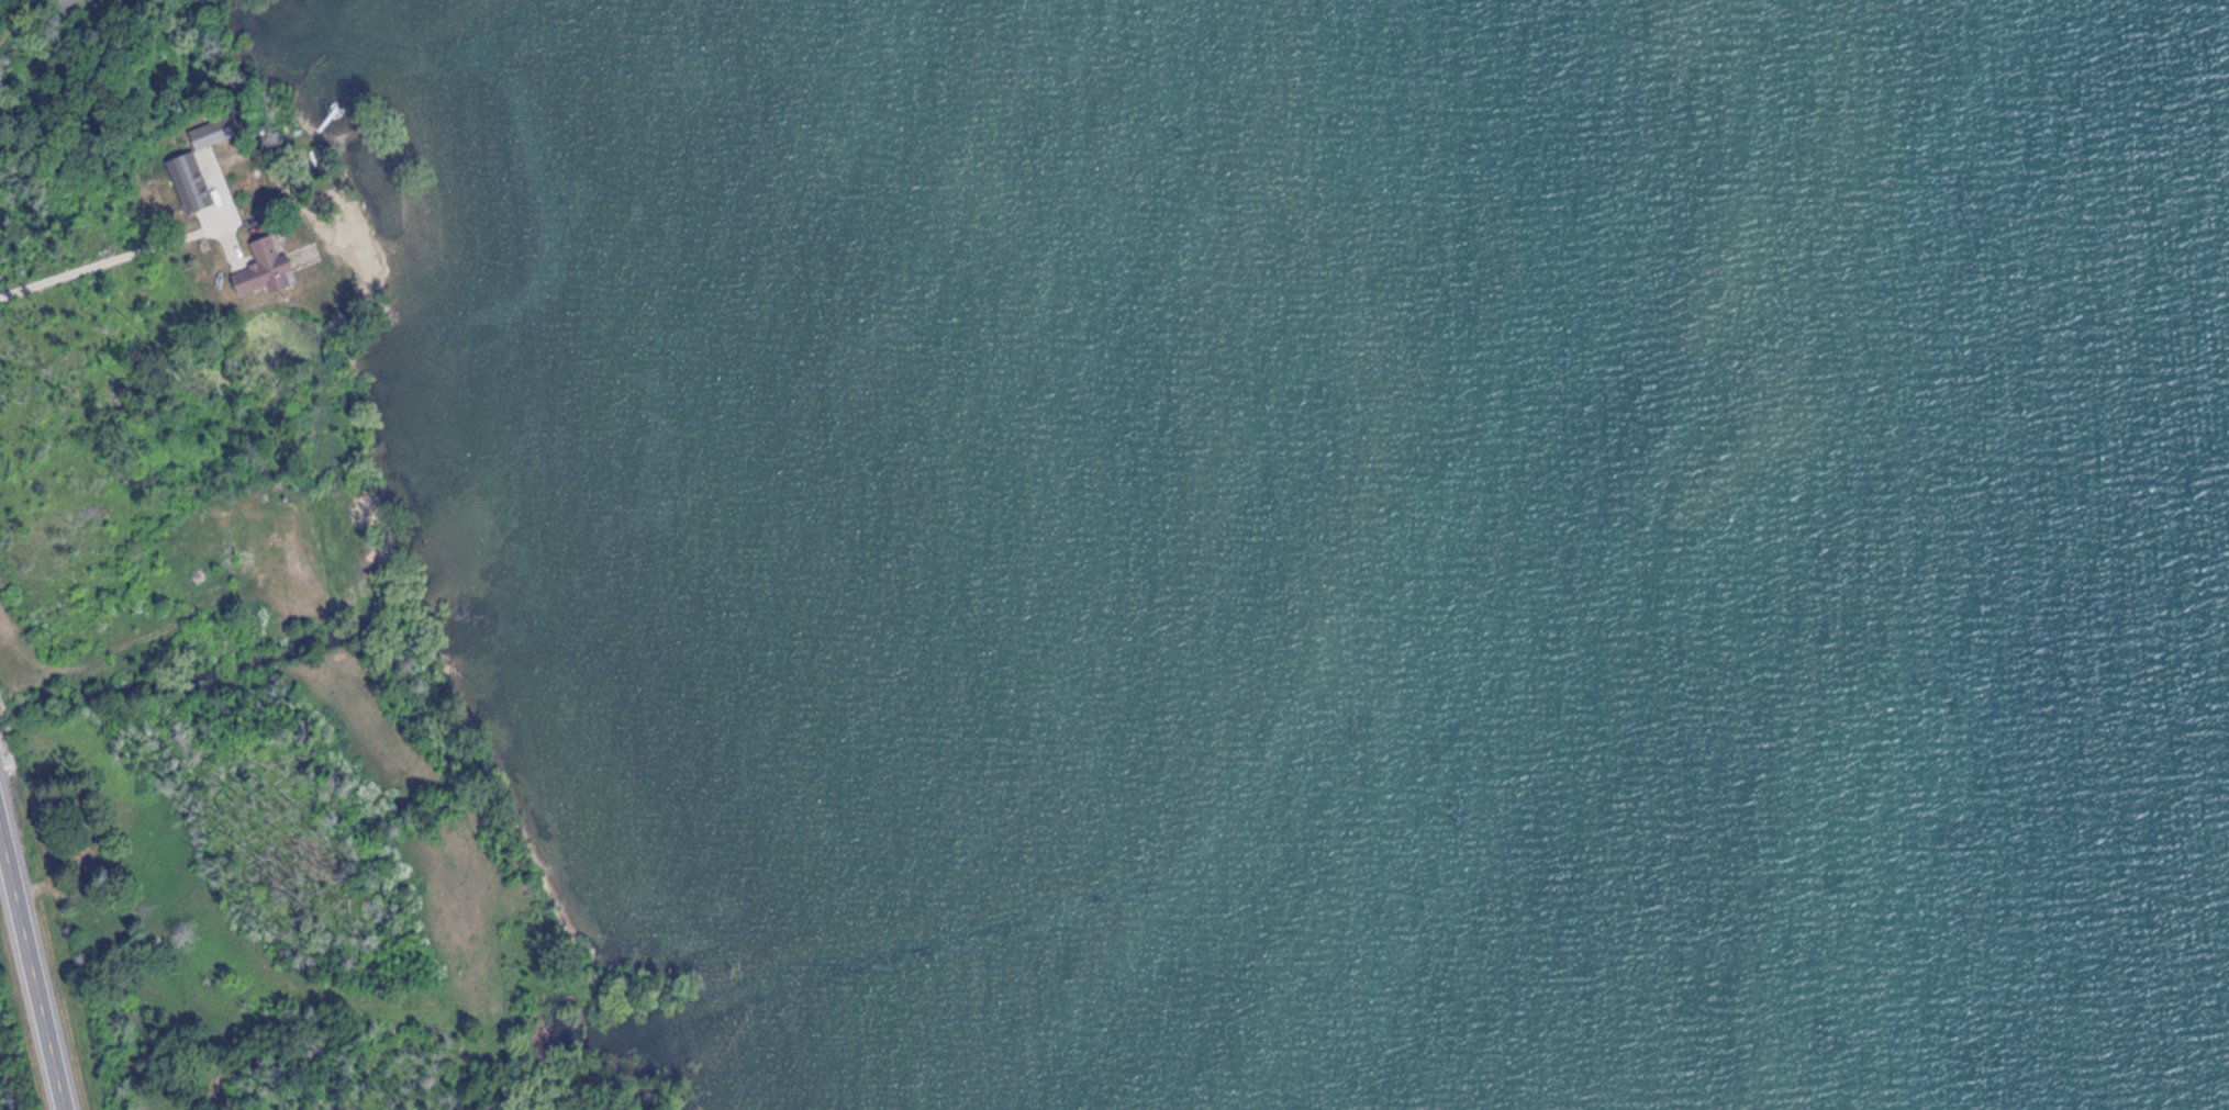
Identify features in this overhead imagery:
building: (71, 3)
building: (192, 184)
building: (267, 269)
park: (82, 838)
road: (33, 973)

